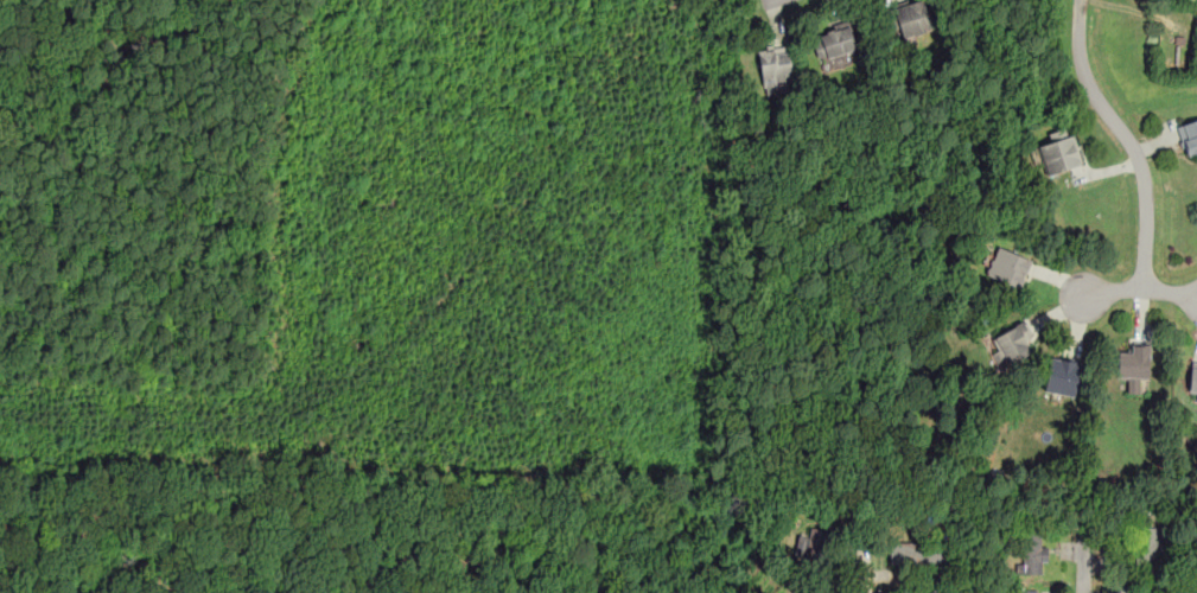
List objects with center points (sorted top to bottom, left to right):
road: (765, 1)
building: (911, 18)
building: (833, 42)
building: (775, 64)
road: (107, 69)
road: (1128, 135)
building: (1188, 135)
building: (1059, 151)
building: (1008, 266)
road: (1112, 289)
road: (1170, 291)
building: (1012, 343)
building: (1132, 365)
building: (1062, 376)
building: (1192, 380)
building: (1196, 397)
building: (1145, 548)
building: (816, 549)
building: (918, 553)
building: (1033, 553)
road: (861, 555)
road: (1082, 561)
building: (1025, 592)

